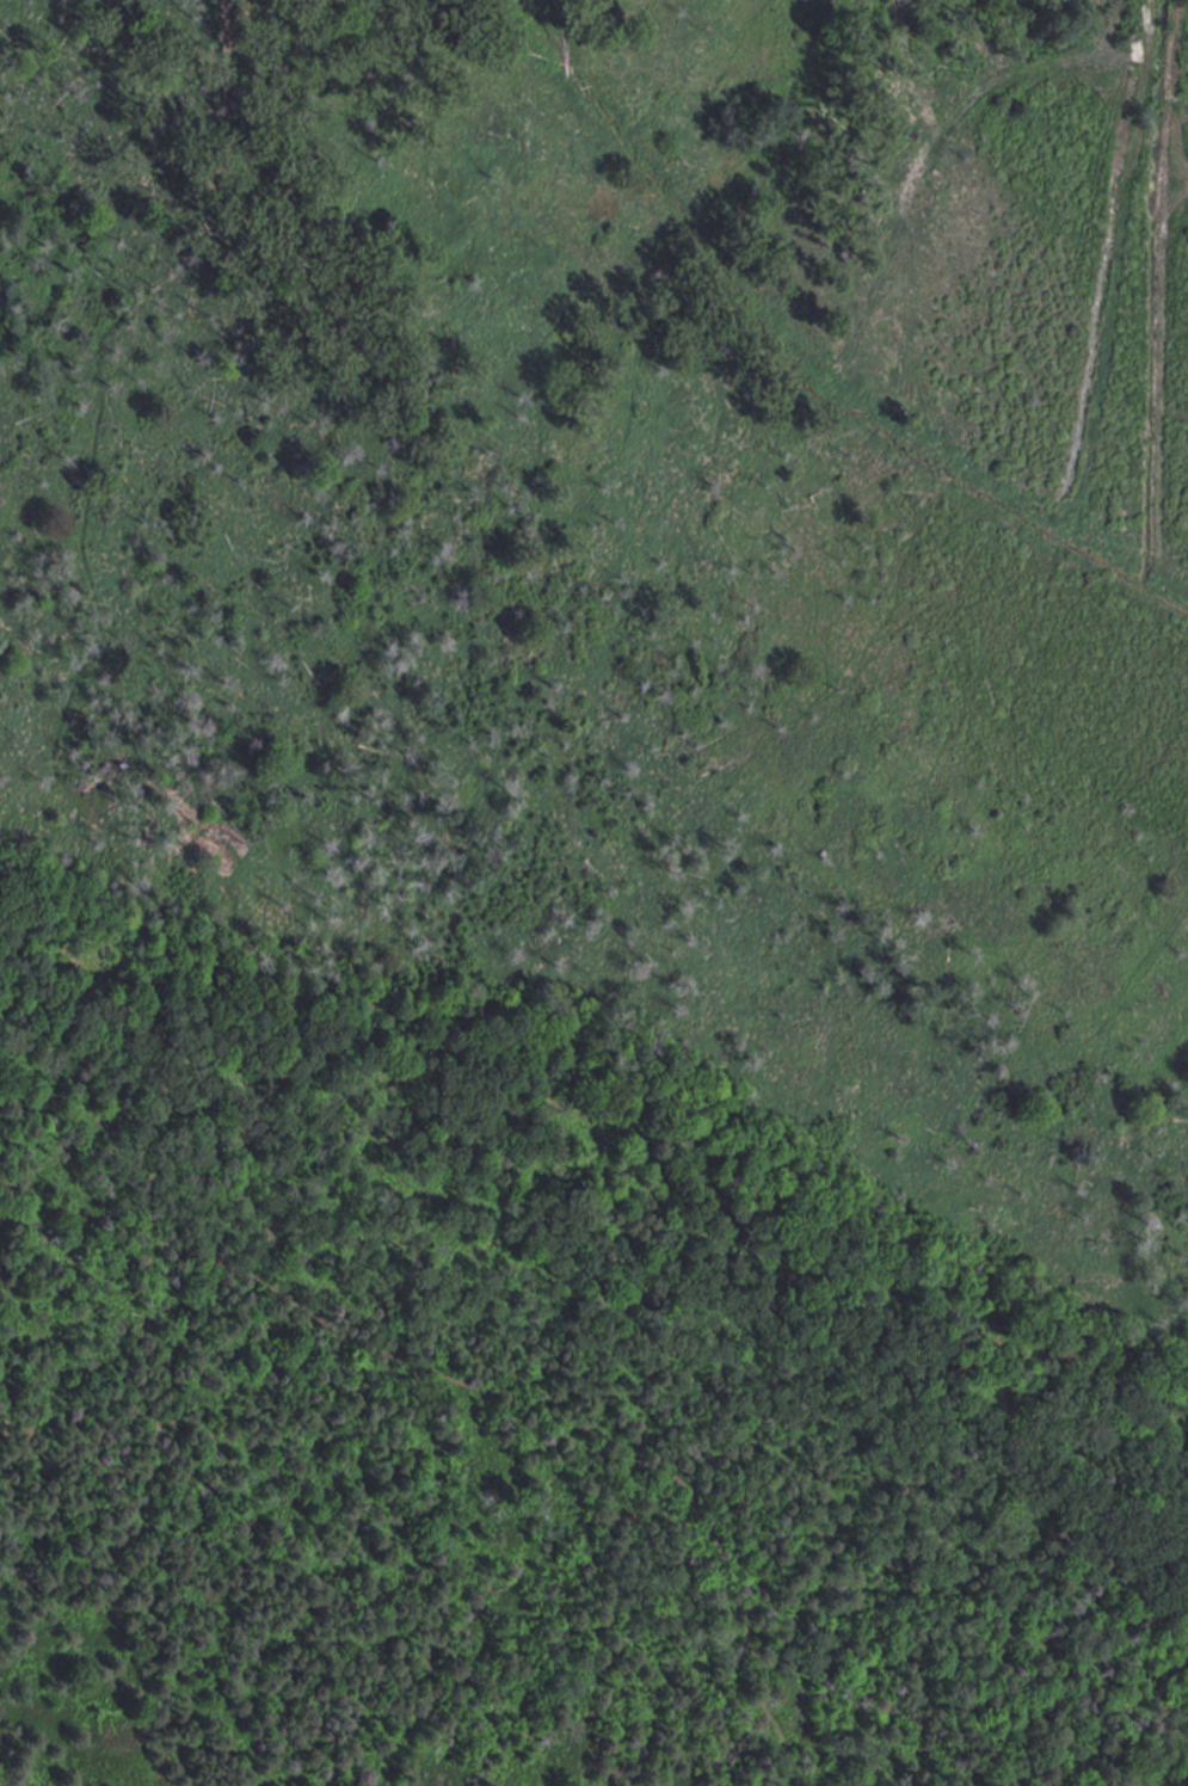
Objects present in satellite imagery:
park: (1172, 85)

